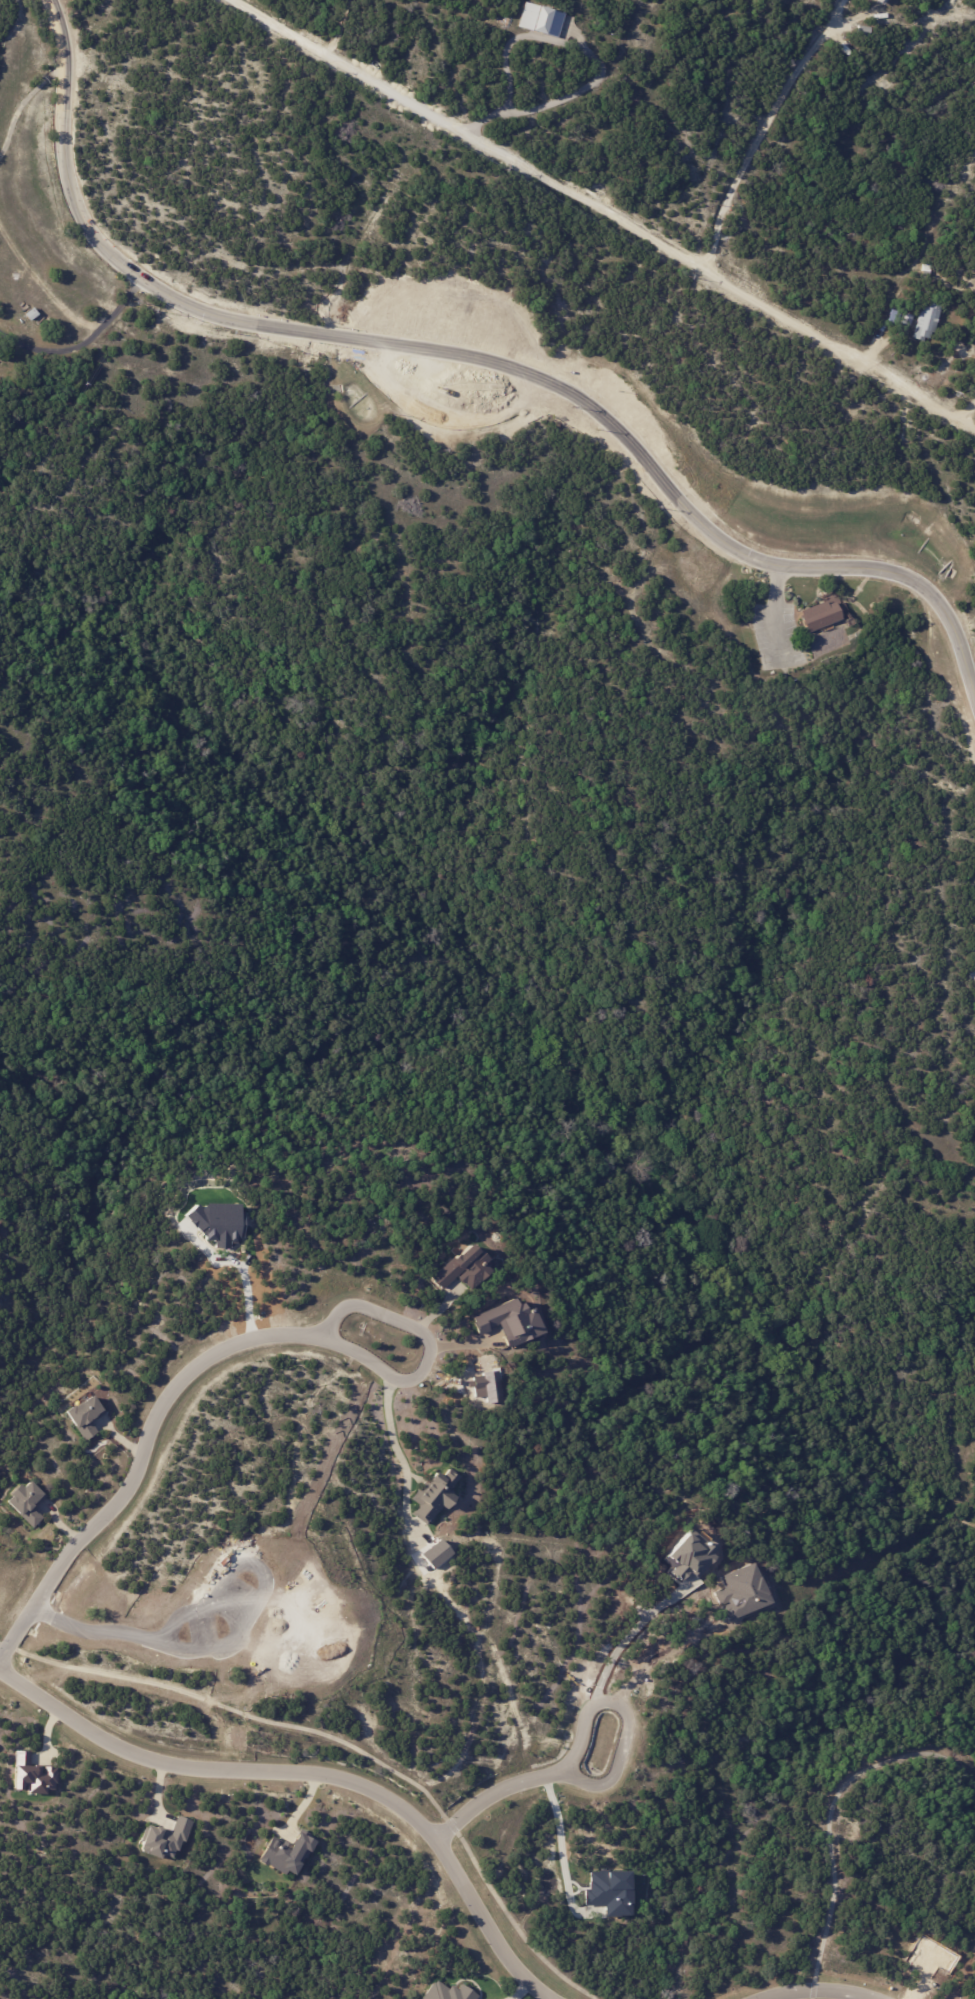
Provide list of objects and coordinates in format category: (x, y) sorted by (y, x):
building: (880, 1)
building: (540, 21)
building: (864, 30)
road: (344, 31)
road: (596, 61)
road: (21, 104)
road: (762, 130)
road: (595, 205)
building: (926, 268)
road: (42, 284)
building: (31, 313)
building: (898, 317)
building: (926, 324)
road: (84, 343)
road: (464, 418)
road: (774, 614)
building: (821, 616)
building: (831, 641)
building: (464, 1267)
road: (247, 1287)
building: (510, 1321)
road: (427, 1344)
building: (85, 1416)
road: (389, 1424)
road: (145, 1463)
building: (434, 1495)
building: (25, 1502)
road: (630, 1638)
road: (662, 1655)
building: (32, 1774)
road: (310, 1776)
road: (599, 1786)
road: (556, 1831)
building: (164, 1839)
building: (287, 1852)
building: (447, 1991)
road: (816, 1994)
road: (811, 1996)

